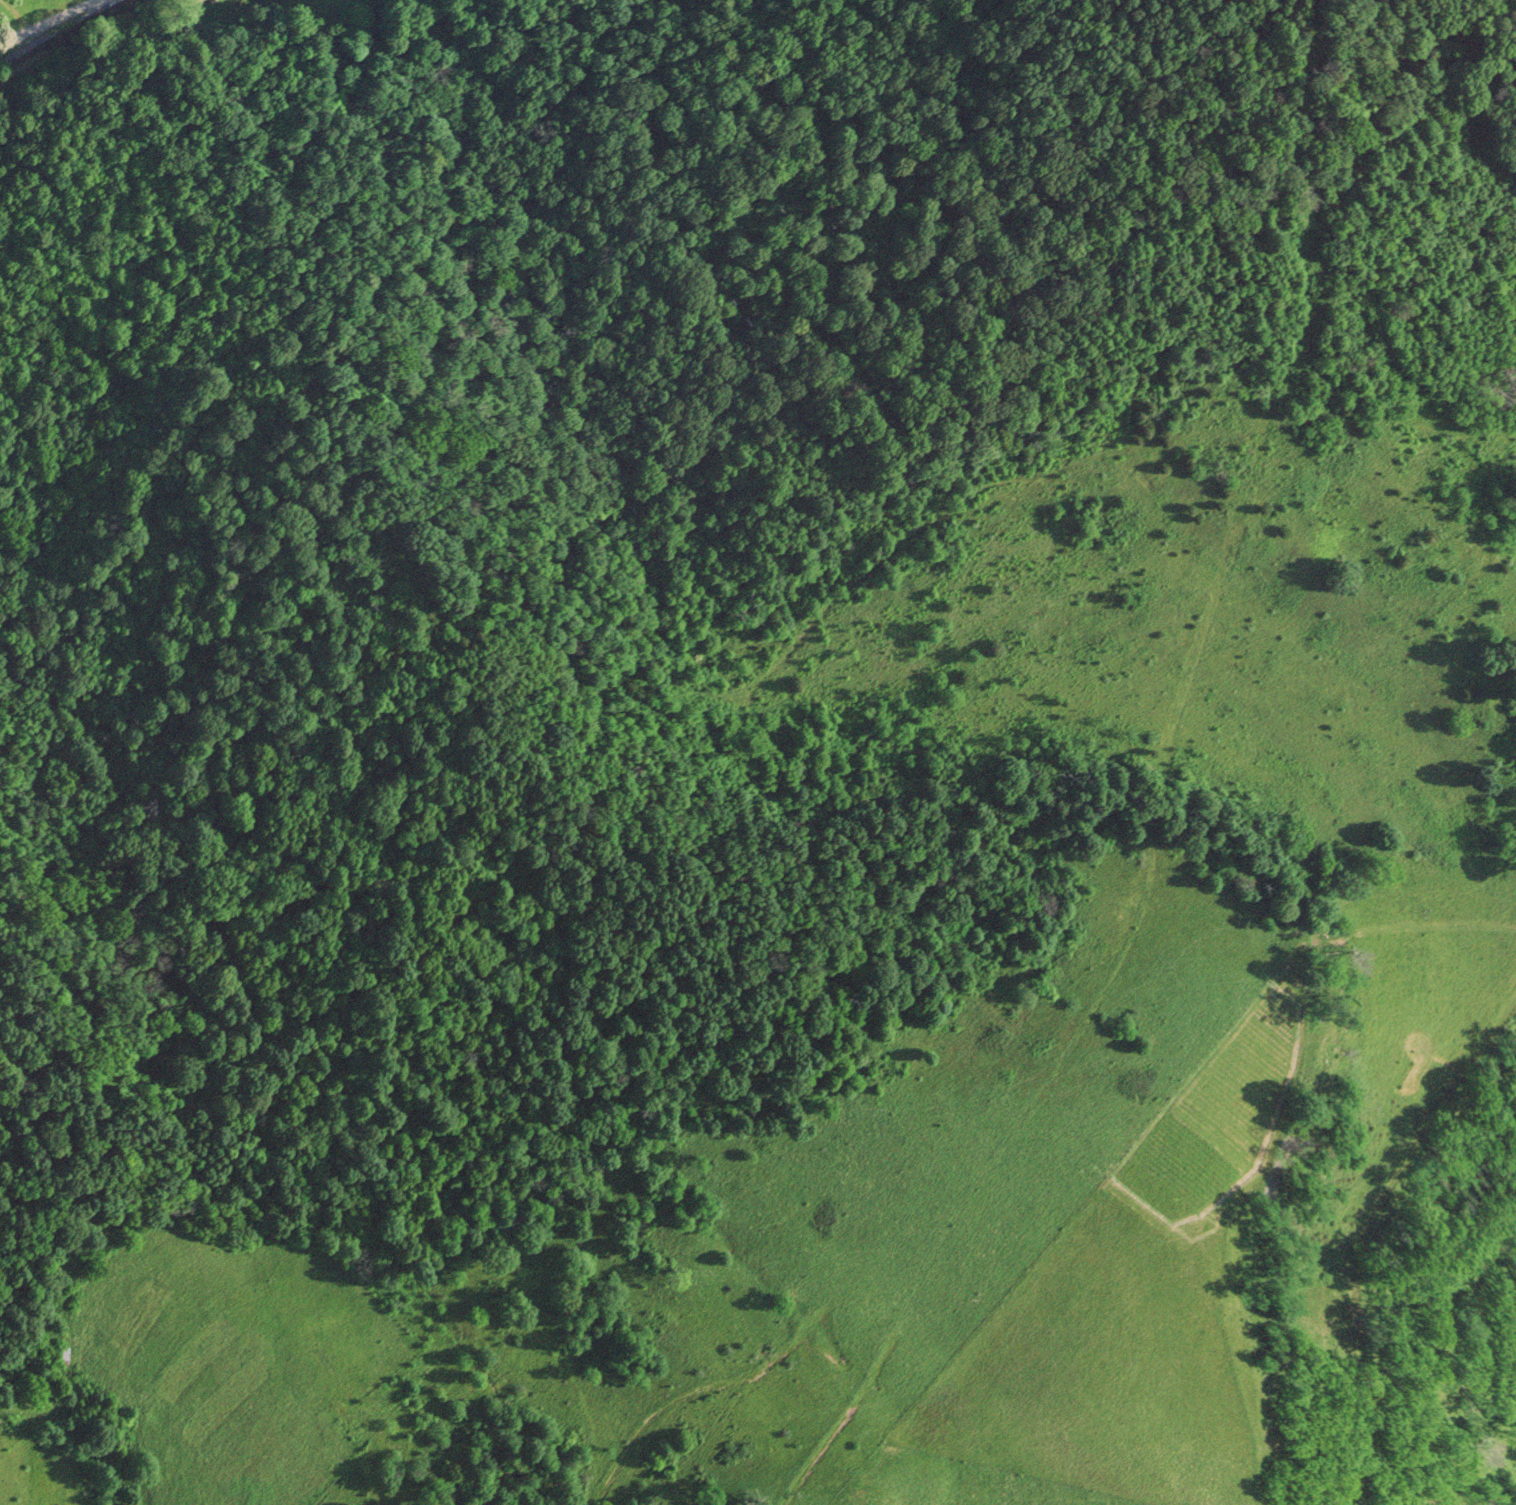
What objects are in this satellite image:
road: (51, 22)
building: (59, 1349)

